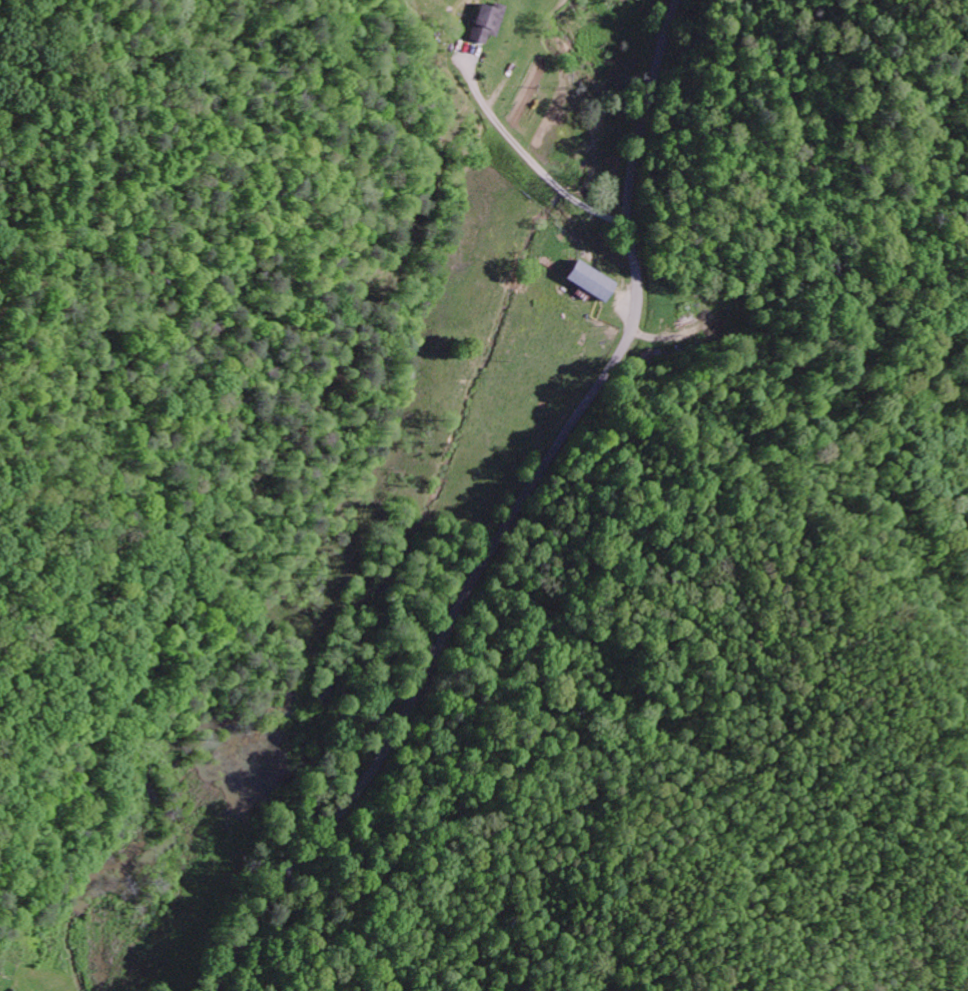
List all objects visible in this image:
building: (481, 25)
building: (590, 283)
road: (512, 517)

